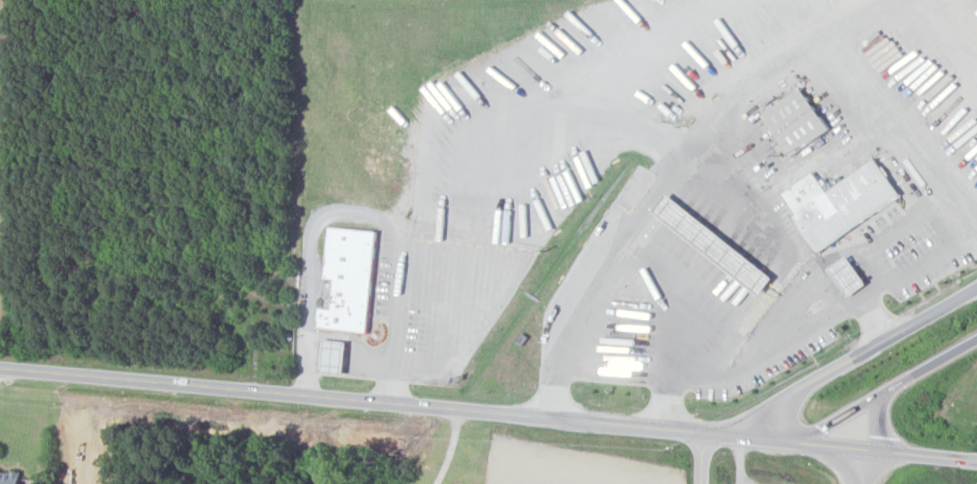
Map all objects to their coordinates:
road: (961, 13)
road: (597, 89)
building: (794, 122)
road: (900, 125)
road: (673, 180)
building: (836, 203)
road: (358, 213)
building: (711, 245)
gas station: (711, 245)
building: (845, 276)
building: (349, 278)
road: (674, 297)
road: (867, 323)
road: (802, 330)
road: (859, 357)
road: (930, 368)
road: (401, 406)
road: (843, 419)
road: (877, 422)
road: (840, 447)
road: (451, 449)
road: (925, 456)
road: (700, 459)
road: (974, 461)
road: (873, 467)
building: (9, 477)

